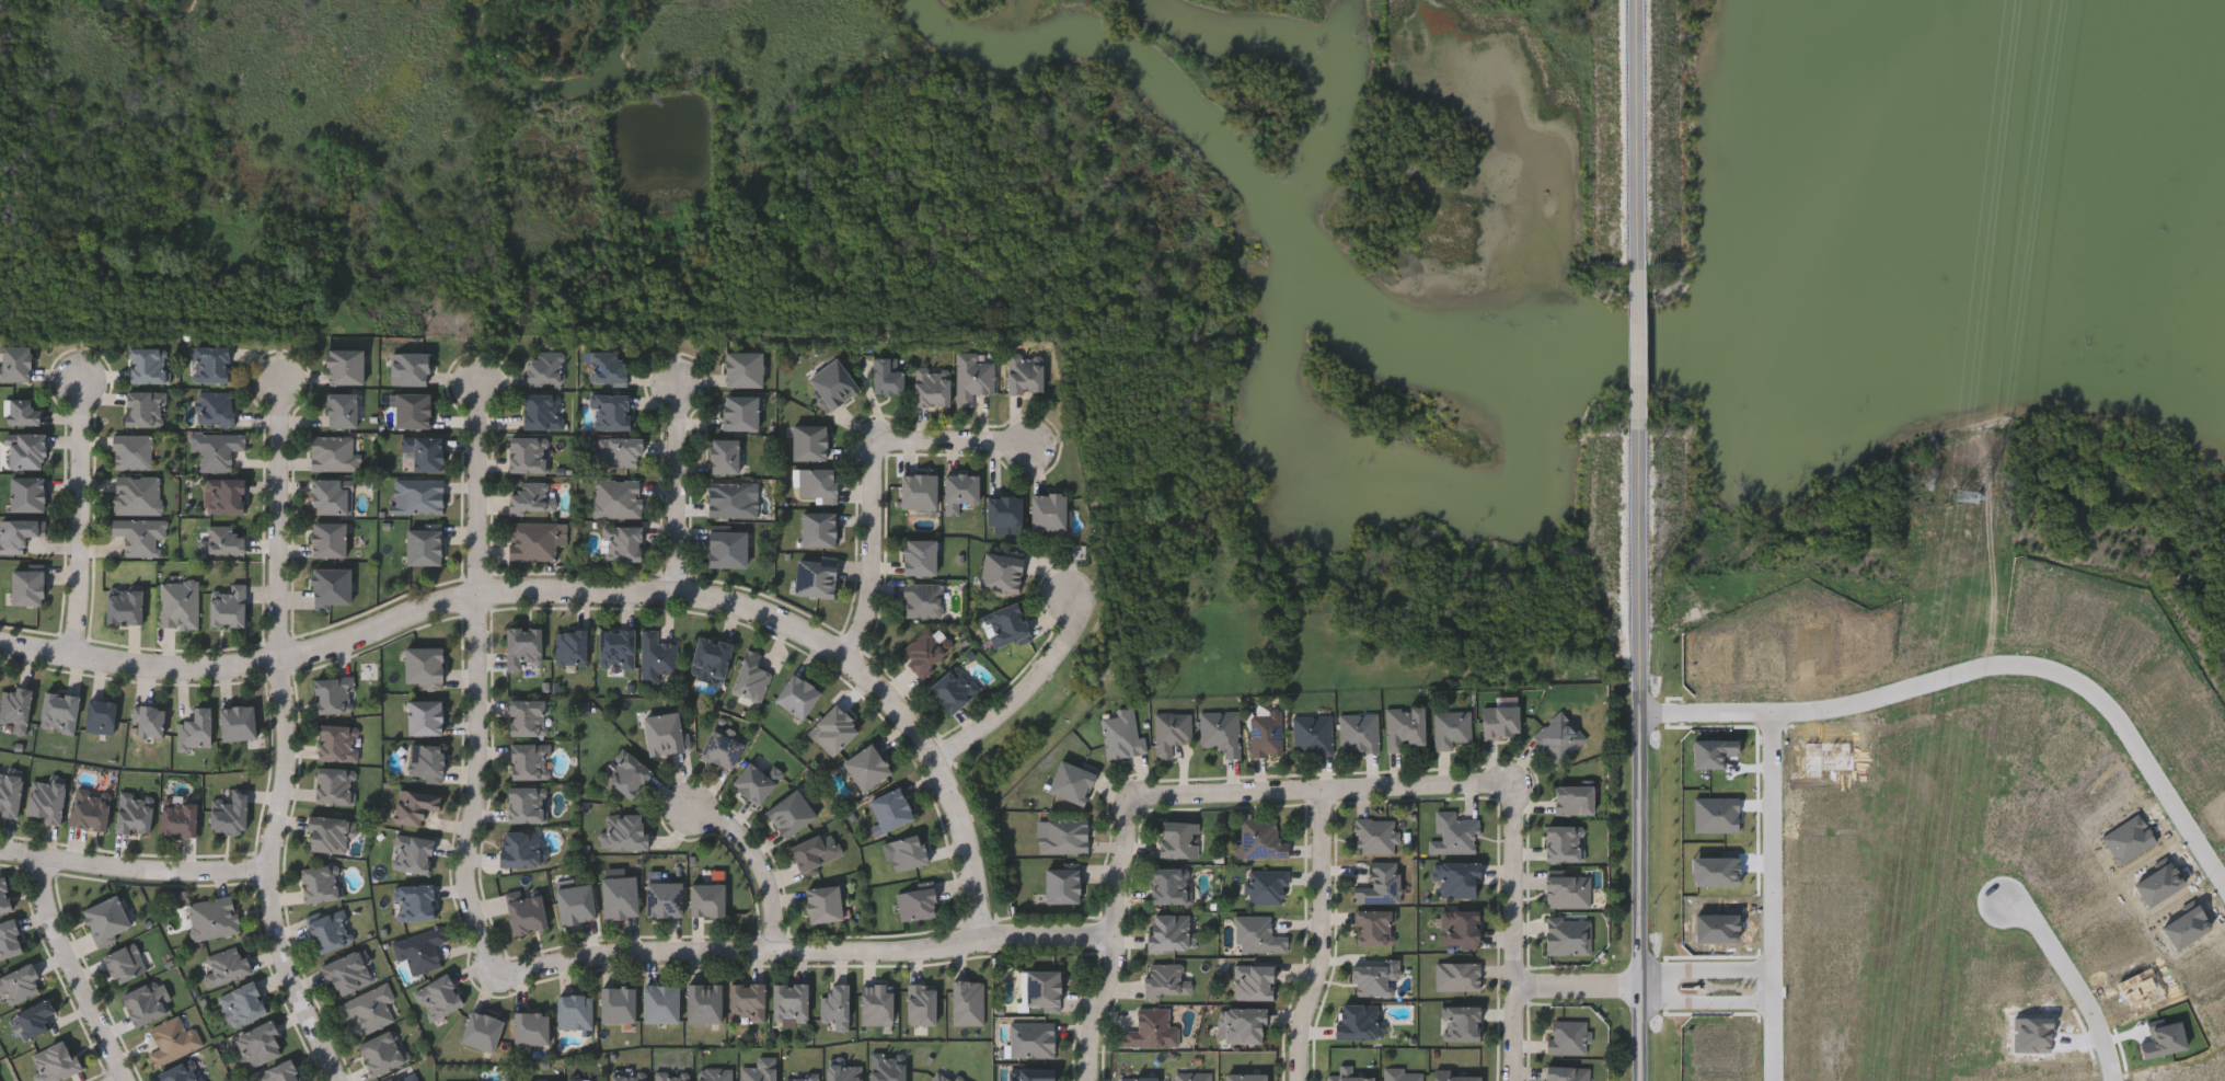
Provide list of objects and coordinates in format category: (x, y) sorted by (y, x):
road: (1644, 130)
road: (1646, 346)
building: (14, 363)
building: (147, 364)
building: (209, 364)
building: (343, 366)
building: (545, 367)
building: (608, 367)
building: (407, 368)
building: (741, 368)
building: (1023, 373)
building: (887, 375)
building: (972, 376)
building: (831, 384)
building: (930, 384)
building: (143, 407)
building: (215, 407)
building: (22, 410)
building: (341, 410)
building: (412, 410)
building: (542, 411)
building: (610, 411)
building: (739, 413)
building: (808, 441)
building: (217, 448)
building: (25, 450)
building: (131, 451)
building: (424, 451)
building: (616, 451)
building: (333, 452)
building: (528, 455)
building: (723, 456)
road: (873, 472)
building: (817, 482)
road: (678, 484)
road: (483, 490)
building: (916, 490)
building: (958, 490)
building: (25, 493)
building: (136, 494)
building: (419, 494)
building: (227, 495)
building: (330, 495)
power tower: (1969, 495)
building: (531, 497)
building: (615, 497)
building: (731, 498)
building: (1046, 510)
building: (1003, 513)
road: (80, 517)
road: (281, 521)
building: (817, 529)
building: (18, 533)
building: (139, 534)
building: (224, 539)
building: (327, 539)
building: (534, 539)
building: (620, 542)
building: (423, 545)
building: (725, 549)
building: (916, 555)
building: (999, 571)
building: (814, 578)
building: (25, 586)
building: (328, 586)
road: (584, 593)
building: (921, 598)
building: (123, 603)
building: (177, 603)
building: (227, 607)
building: (2083, 612)
building: (1005, 624)
building: (1796, 637)
building: (521, 645)
building: (572, 646)
building: (615, 647)
building: (925, 649)
building: (655, 655)
building: (708, 656)
building: (423, 665)
building: (2031, 665)
road: (1987, 666)
building: (749, 676)
building: (952, 688)
road: (1025, 691)
building: (334, 692)
building: (795, 694)
building: (14, 706)
building: (57, 711)
building: (99, 715)
building: (424, 715)
building: (528, 716)
building: (149, 720)
building: (1498, 721)
building: (237, 722)
building: (1404, 726)
building: (1450, 727)
building: (194, 728)
building: (831, 728)
building: (1220, 729)
building: (1169, 731)
building: (1358, 731)
building: (1265, 732)
building: (664, 733)
building: (1311, 733)
building: (1121, 734)
building: (1557, 736)
building: (337, 741)
building: (720, 748)
road: (1645, 756)
building: (425, 759)
building: (529, 760)
building: (865, 766)
building: (626, 774)
building: (756, 780)
building: (1069, 781)
building: (334, 784)
road: (479, 786)
road: (1321, 787)
building: (9, 791)
building: (44, 798)
building: (1572, 798)
building: (526, 803)
building: (413, 804)
building: (89, 807)
building: (888, 808)
building: (134, 812)
building: (228, 812)
building: (788, 813)
building: (178, 815)
building: (624, 830)
building: (327, 831)
building: (1453, 832)
building: (1374, 833)
building: (1061, 835)
building: (1177, 838)
building: (1260, 838)
building: (1564, 842)
building: (518, 848)
building: (815, 850)
building: (907, 851)
building: (412, 852)
road: (760, 866)
road: (132, 869)
road: (267, 876)
building: (1455, 877)
building: (320, 883)
building: (1061, 883)
building: (1380, 883)
building: (1169, 885)
building: (1266, 886)
building: (1567, 888)
building: (3, 895)
building: (618, 896)
road: (1773, 896)
building: (662, 898)
building: (705, 899)
building: (415, 901)
building: (916, 901)
building: (574, 902)
building: (821, 904)
building: (526, 912)
building: (212, 917)
building: (105, 920)
building: (1373, 927)
building: (1459, 927)
building: (328, 930)
road: (1517, 930)
building: (1167, 932)
building: (1257, 934)
road: (1323, 935)
building: (1567, 935)
building: (9, 938)
road: (1118, 941)
building: (419, 950)
road: (805, 955)
building: (124, 962)
building: (224, 965)
road: (1705, 970)
road: (77, 971)
building: (346, 973)
building: (1373, 975)
building: (1456, 975)
road: (2075, 979)
building: (1165, 980)
building: (1253, 981)
building: (18, 985)
building: (1041, 989)
road: (1581, 989)
building: (438, 997)
building: (746, 1001)
building: (967, 1001)
road: (1707, 1001)
building: (145, 1002)
building: (659, 1002)
building: (789, 1002)
building: (920, 1002)
building: (241, 1003)
building: (703, 1003)
building: (876, 1003)
building: (616, 1004)
building: (834, 1005)
building: (369, 1007)
building: (574, 1011)
building: (34, 1016)
building: (1356, 1021)
building: (1460, 1022)
building: (1244, 1025)
building: (529, 1027)
building: (1151, 1028)
building: (480, 1031)
building: (1567, 1036)
building: (1031, 1037)
building: (173, 1039)
building: (257, 1044)
building: (380, 1051)
building: (55, 1061)
building: (887, 1068)
building: (759, 1070)
building: (841, 1070)
building: (182, 1071)
building: (279, 1072)
building: (1566, 1072)
building: (713, 1073)
building: (1030, 1074)
building: (1402, 1074)
building: (670, 1076)
building: (943, 1076)
building: (1192, 1076)
building: (407, 1077)
building: (799, 1077)
building: (1244, 1077)
building: (1349, 1077)
building: (1454, 1077)
building: (626, 1078)
building: (1138, 1078)

